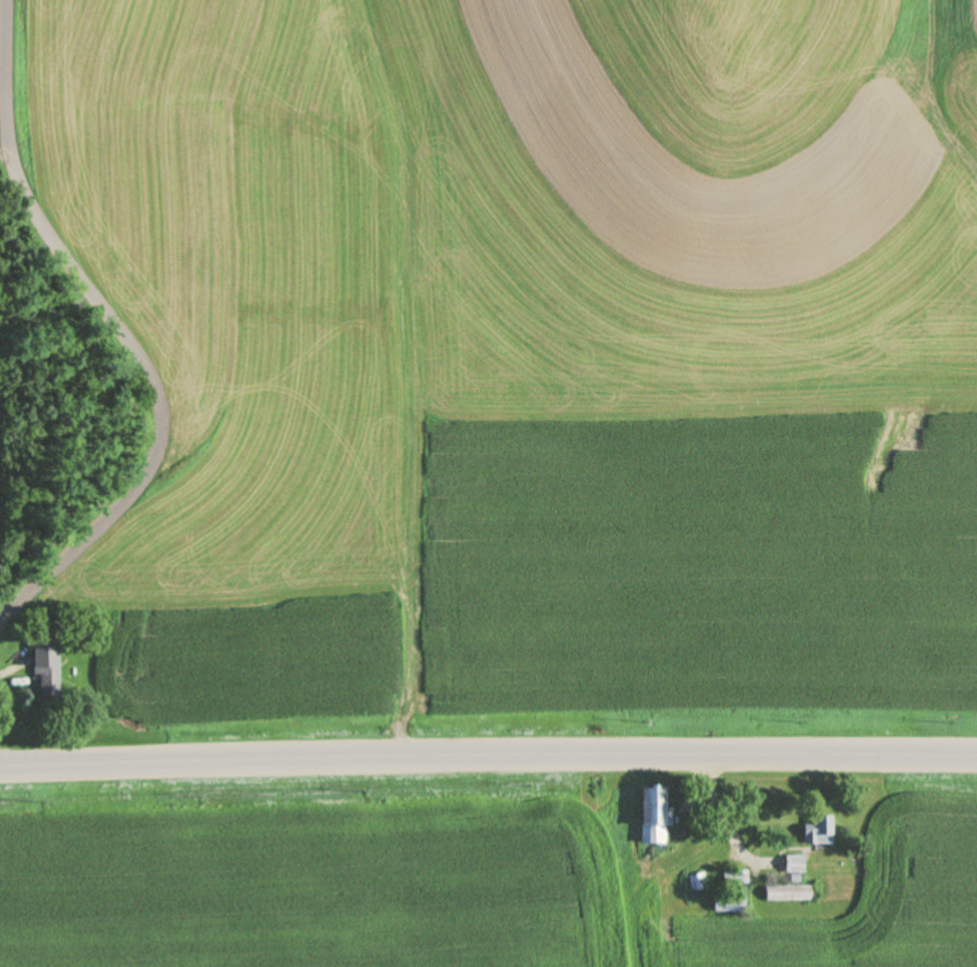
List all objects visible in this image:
road: (121, 324)
building: (46, 669)
road: (488, 751)
building: (654, 815)
road: (732, 816)
building: (818, 831)
building: (794, 864)
building: (735, 877)
building: (695, 880)
building: (788, 893)
building: (729, 904)

